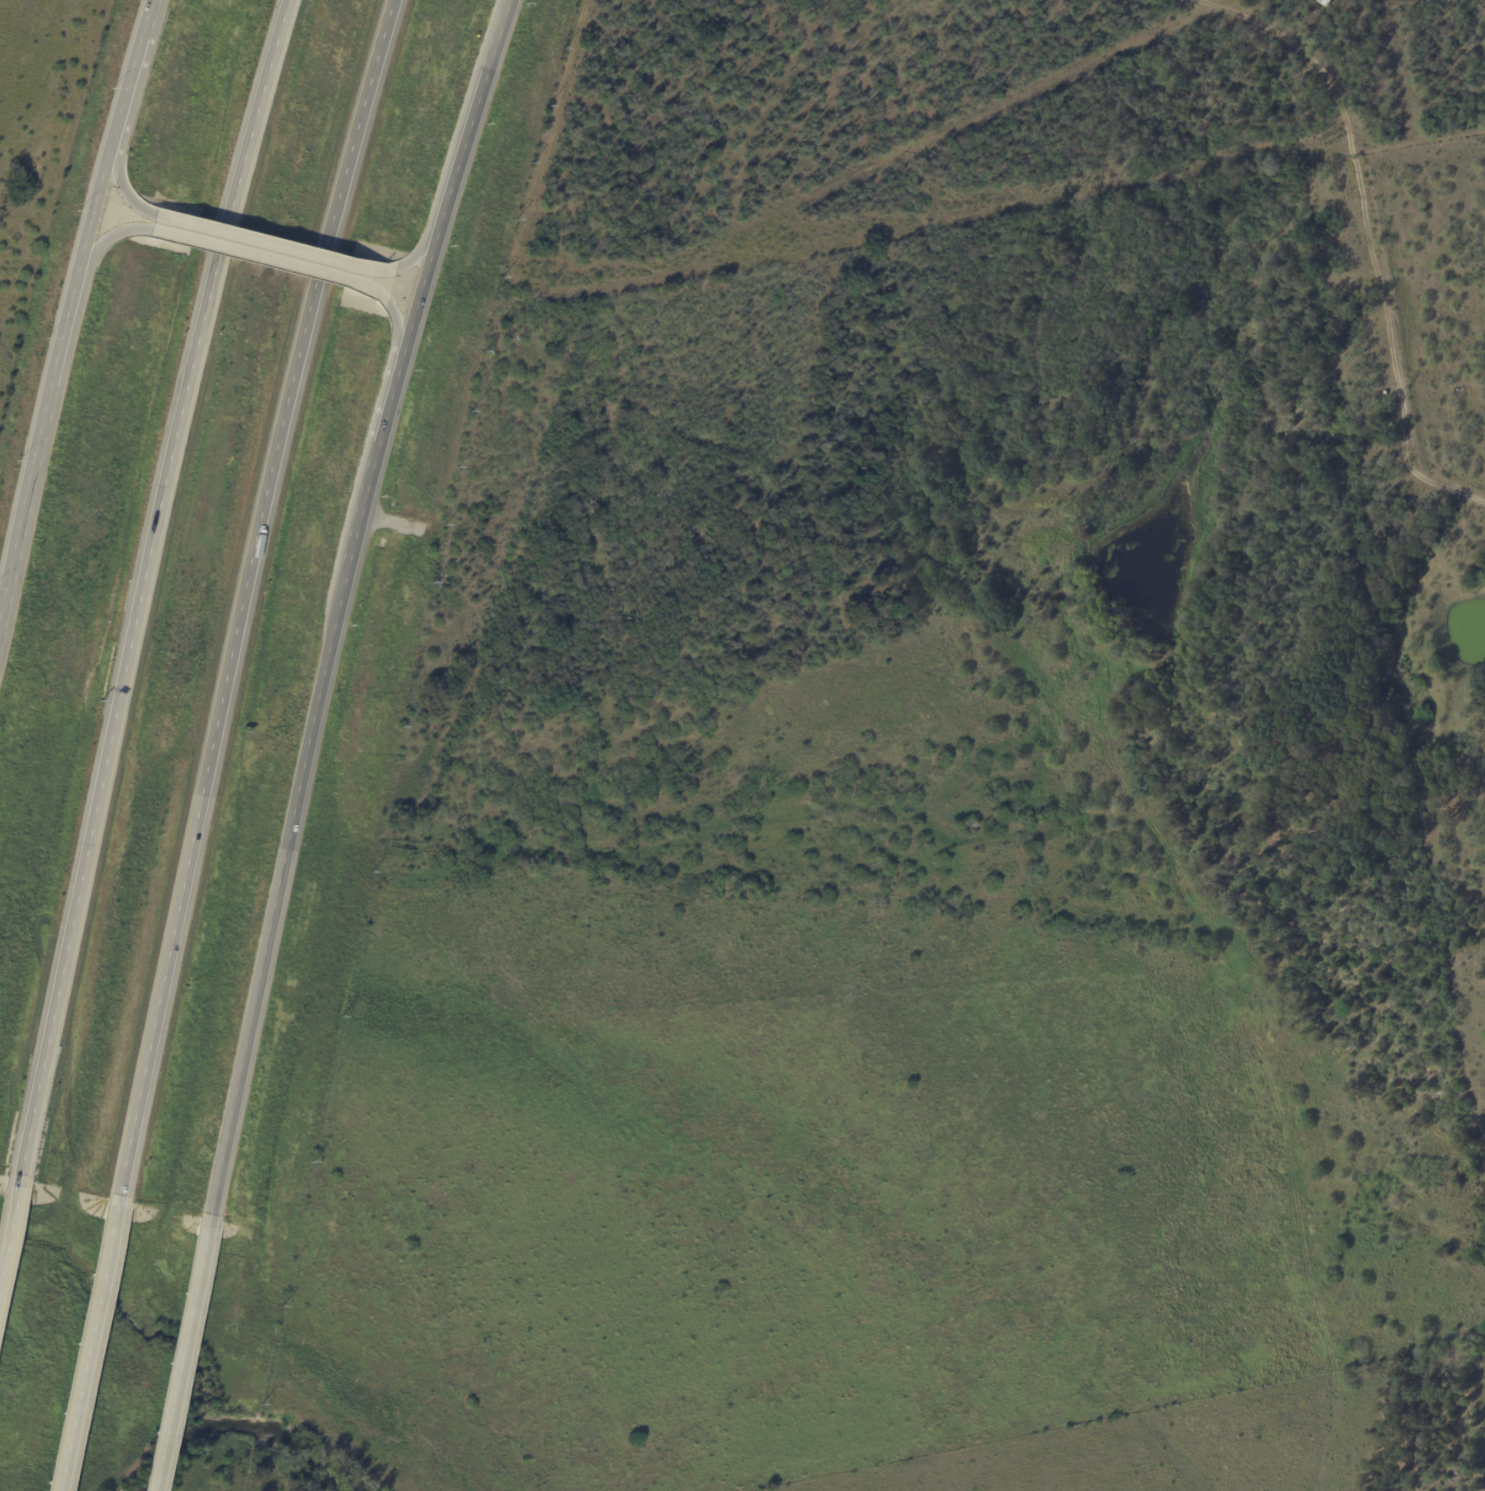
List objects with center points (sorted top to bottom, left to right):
road: (118, 178)
road: (109, 237)
road: (262, 242)
road: (413, 256)
road: (258, 258)
road: (71, 306)
road: (397, 323)
road: (136, 586)
road: (241, 596)
road: (336, 603)
road: (6, 1211)
road: (84, 1346)
road: (178, 1355)

